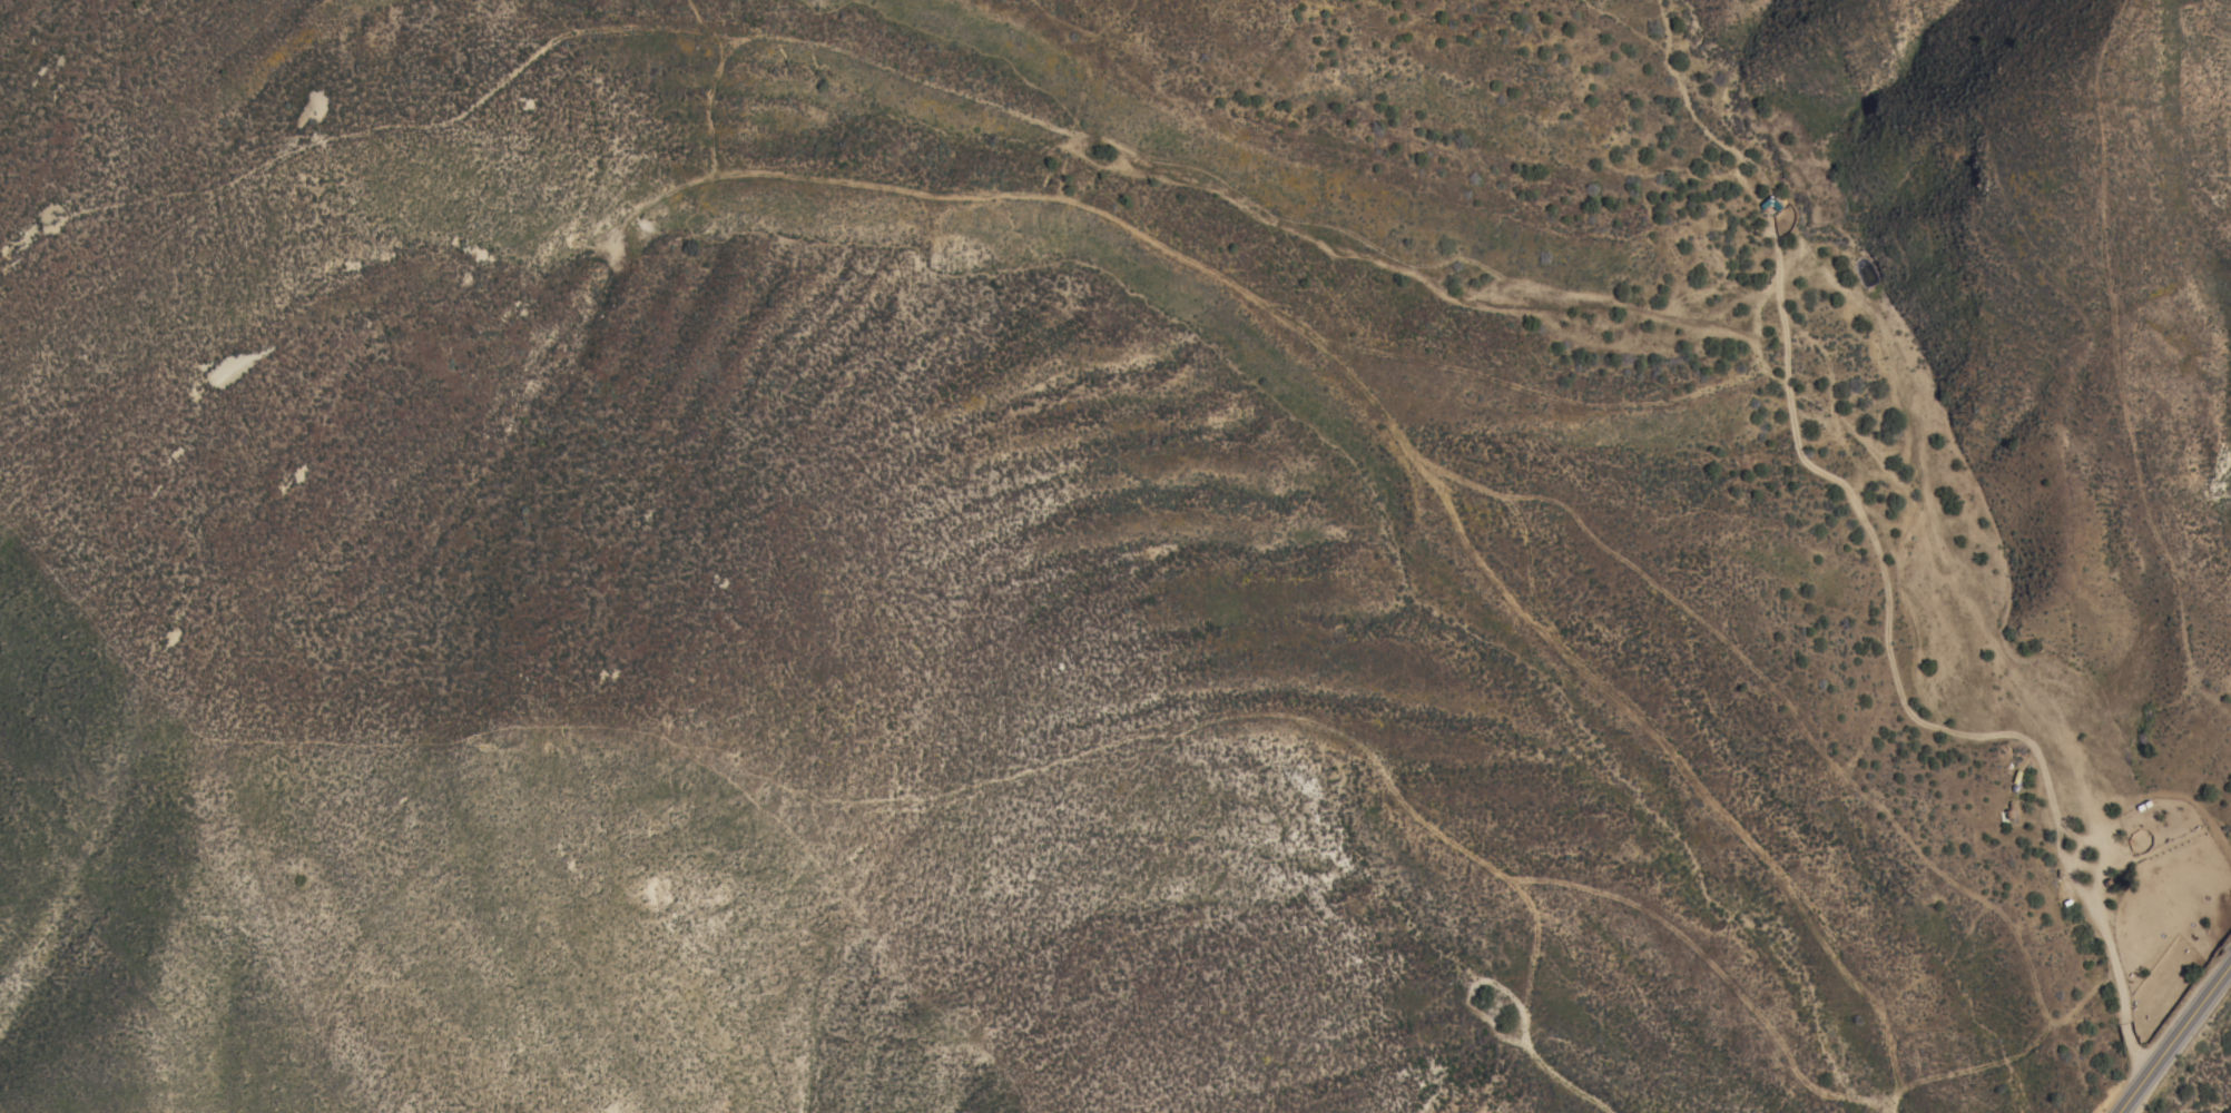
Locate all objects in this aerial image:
road: (2172, 1032)

